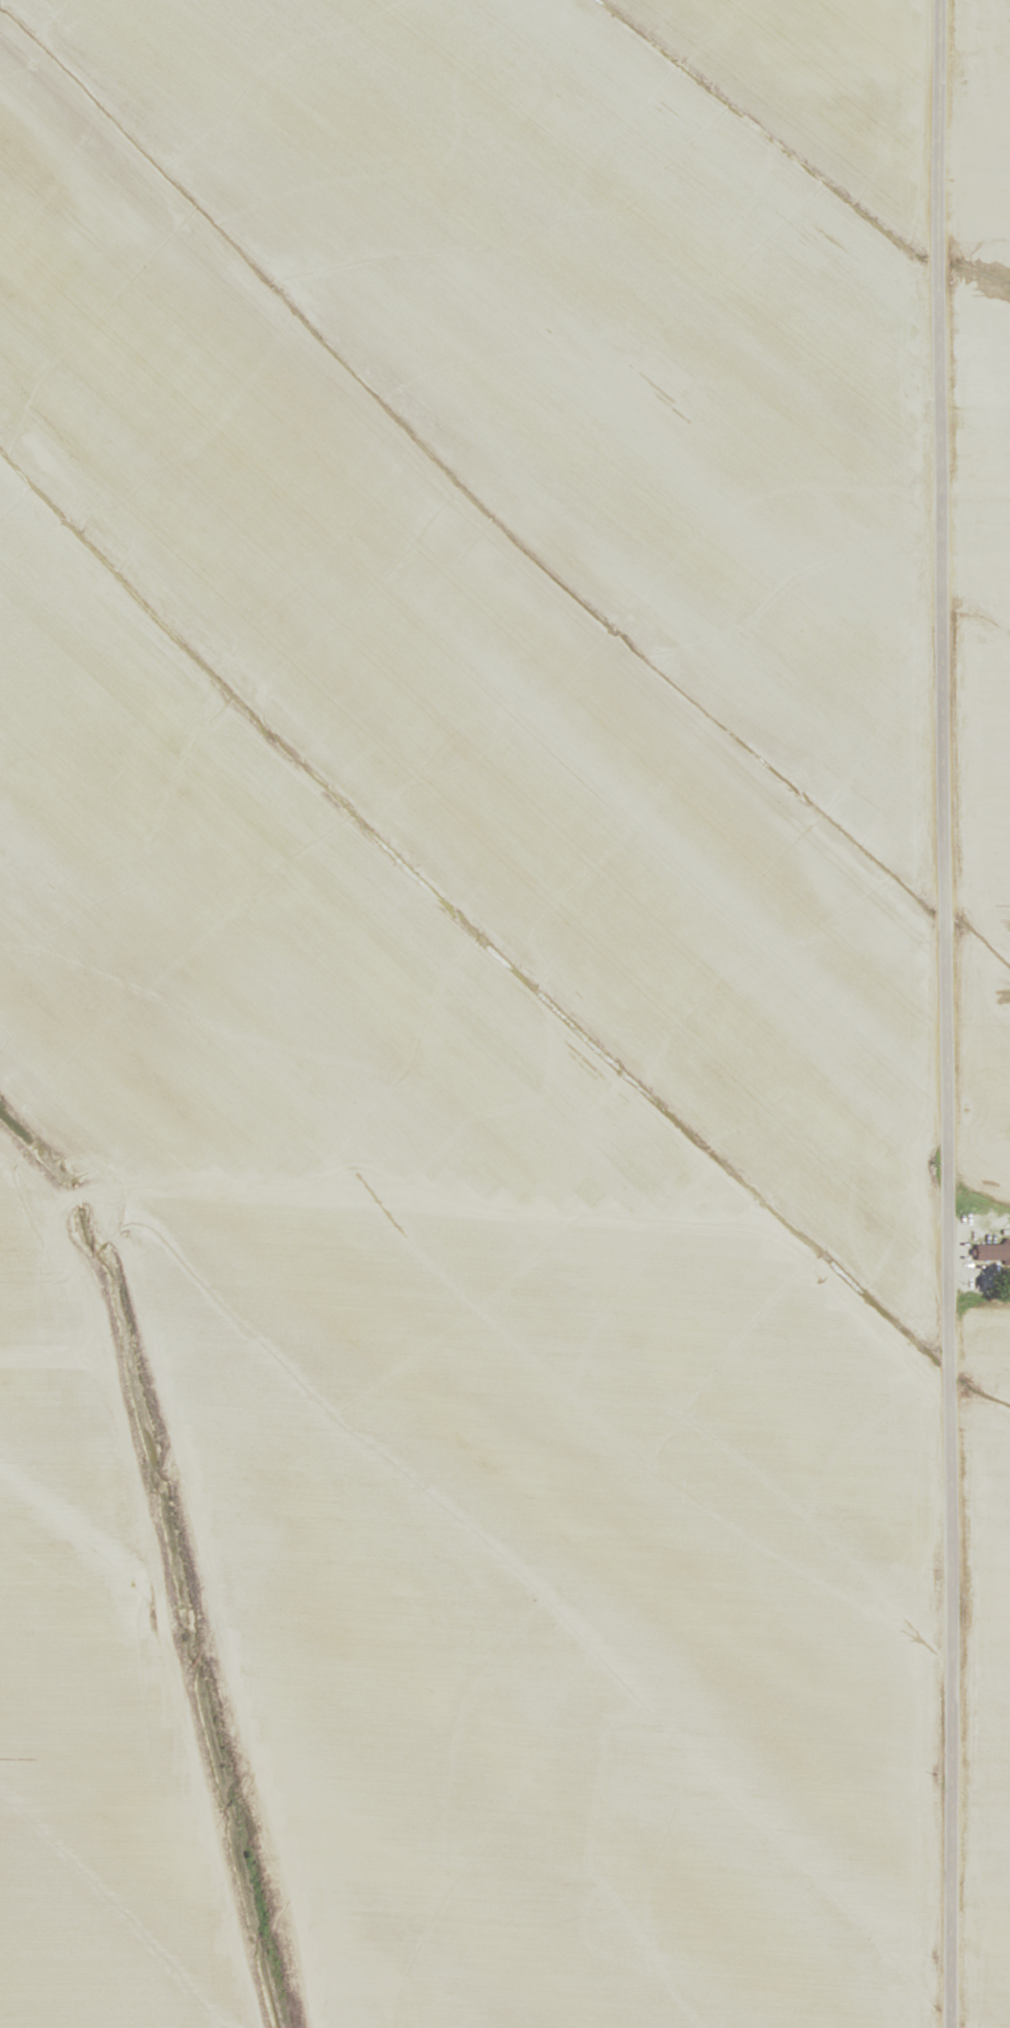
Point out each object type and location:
road: (947, 1013)

